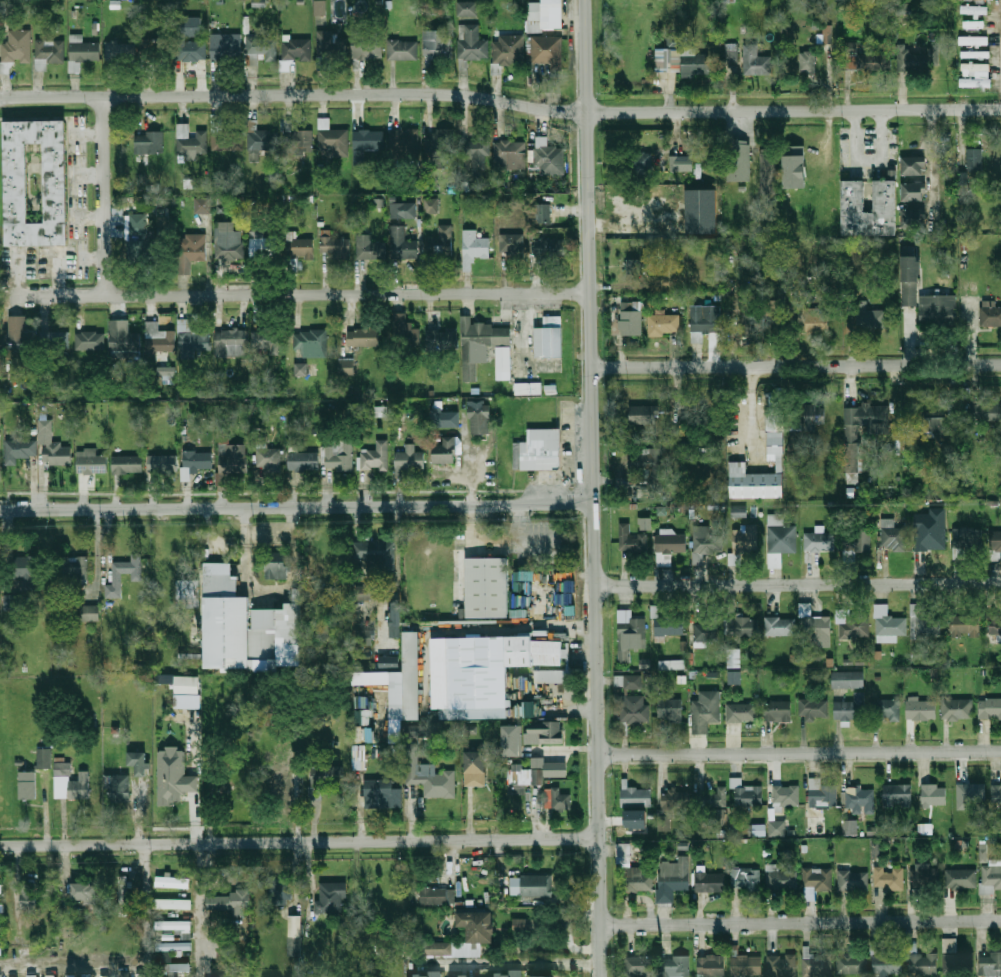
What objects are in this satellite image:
building: (961, 0)
building: (320, 8)
building: (467, 9)
building: (974, 9)
building: (535, 17)
building: (973, 24)
building: (826, 34)
building: (190, 39)
building: (973, 41)
building: (471, 44)
building: (226, 46)
building: (436, 46)
building: (19, 48)
building: (261, 48)
building: (329, 48)
building: (366, 48)
building: (296, 49)
building: (402, 50)
building: (508, 50)
building: (546, 50)
building: (153, 51)
building: (48, 52)
building: (119, 52)
building: (82, 53)
building: (731, 53)
building: (975, 54)
building: (864, 60)
building: (918, 60)
building: (681, 61)
building: (755, 61)
building: (807, 62)
building: (976, 67)
building: (975, 83)
road: (500, 100)
road: (87, 134)
building: (262, 140)
building: (404, 140)
building: (439, 140)
building: (191, 141)
building: (227, 141)
building: (298, 142)
building: (366, 142)
building: (149, 143)
building: (335, 143)
building: (508, 152)
building: (475, 153)
building: (974, 159)
building: (550, 160)
building: (809, 160)
building: (738, 161)
road: (931, 161)
road: (872, 162)
building: (641, 165)
building: (682, 165)
building: (913, 166)
building: (793, 167)
road: (89, 172)
building: (769, 172)
building: (15, 173)
building: (912, 192)
road: (102, 193)
building: (853, 196)
building: (202, 205)
building: (430, 206)
building: (402, 210)
building: (700, 211)
building: (543, 212)
road: (89, 215)
building: (913, 218)
building: (139, 226)
building: (228, 241)
building: (440, 243)
building: (402, 244)
building: (261, 245)
building: (475, 245)
building: (511, 245)
building: (335, 246)
building: (191, 247)
building: (300, 248)
building: (370, 248)
building: (552, 254)
road: (93, 259)
building: (633, 268)
building: (971, 287)
building: (852, 291)
road: (302, 294)
building: (925, 296)
building: (771, 311)
building: (989, 313)
building: (869, 316)
building: (630, 318)
building: (814, 319)
building: (703, 321)
building: (662, 323)
building: (404, 332)
building: (17, 333)
building: (122, 336)
building: (362, 337)
building: (441, 337)
building: (548, 337)
building: (158, 338)
building: (192, 338)
building: (55, 339)
building: (266, 340)
building: (89, 341)
building: (230, 342)
building: (311, 342)
building: (478, 343)
building: (502, 363)
building: (345, 366)
road: (797, 366)
building: (300, 369)
building: (527, 388)
road: (754, 409)
building: (986, 410)
building: (642, 414)
building: (812, 415)
building: (443, 416)
building: (478, 416)
building: (933, 423)
building: (774, 436)
building: (850, 438)
building: (51, 445)
building: (19, 450)
building: (446, 450)
building: (538, 450)
building: (231, 454)
building: (266, 455)
building: (374, 456)
building: (339, 457)
building: (409, 459)
building: (302, 461)
building: (90, 462)
building: (194, 462)
building: (127, 464)
building: (162, 464)
building: (647, 466)
building: (0, 469)
road: (584, 488)
road: (594, 488)
road: (296, 506)
building: (644, 523)
building: (932, 530)
building: (891, 534)
building: (780, 535)
building: (630, 539)
building: (818, 540)
building: (963, 540)
building: (995, 540)
building: (857, 541)
building: (704, 542)
building: (742, 542)
building: (668, 545)
building: (376, 554)
building: (276, 565)
building: (76, 569)
building: (25, 571)
building: (136, 577)
building: (520, 580)
road: (798, 584)
building: (486, 587)
building: (364, 592)
building: (186, 594)
building: (543, 598)
building: (12, 602)
building: (90, 613)
building: (395, 620)
building: (665, 622)
building: (923, 622)
building: (852, 624)
building: (887, 624)
building: (994, 625)
building: (742, 626)
building: (779, 626)
building: (964, 626)
road: (535, 628)
building: (817, 628)
building: (247, 629)
building: (629, 630)
building: (705, 631)
building: (364, 637)
building: (732, 657)
building: (388, 661)
building: (671, 664)
building: (489, 672)
building: (548, 675)
building: (733, 677)
building: (847, 679)
building: (399, 681)
building: (627, 681)
building: (186, 692)
building: (849, 707)
building: (812, 708)
building: (889, 708)
building: (919, 708)
building: (956, 708)
building: (989, 708)
building: (632, 709)
building: (669, 709)
building: (704, 710)
building: (776, 710)
building: (740, 712)
building: (543, 731)
building: (509, 740)
road: (801, 753)
building: (43, 758)
building: (138, 762)
building: (62, 768)
building: (473, 768)
building: (535, 771)
building: (427, 775)
building: (173, 776)
building: (278, 784)
building: (26, 785)
building: (79, 786)
building: (118, 787)
building: (745, 793)
building: (821, 793)
building: (381, 794)
building: (634, 794)
building: (896, 794)
building: (969, 794)
building: (996, 794)
building: (785, 795)
building: (933, 795)
building: (717, 797)
building: (555, 799)
building: (674, 799)
building: (858, 799)
building: (719, 816)
building: (634, 819)
building: (849, 826)
building: (779, 828)
building: (758, 829)
road: (299, 842)
building: (982, 853)
building: (623, 854)
building: (674, 874)
building: (926, 876)
building: (889, 878)
building: (961, 878)
building: (991, 878)
building: (745, 879)
building: (781, 879)
building: (817, 879)
building: (637, 880)
building: (853, 880)
building: (172, 882)
building: (710, 882)
building: (0, 885)
building: (531, 885)
building: (280, 891)
building: (84, 893)
building: (29, 896)
building: (123, 896)
building: (437, 896)
building: (332, 898)
road: (199, 899)
building: (229, 902)
building: (172, 904)
building: (1, 908)
road: (144, 909)
road: (801, 922)
building: (173, 925)
building: (520, 926)
building: (295, 927)
building: (1, 928)
building: (241, 930)
building: (481, 934)
building: (174, 947)
building: (884, 961)
building: (958, 961)
road: (516, 963)
building: (852, 963)
building: (922, 964)
building: (746, 965)
building: (817, 965)
building: (990, 965)
building: (711, 966)
building: (781, 966)
road: (65, 967)
building: (638, 967)
building: (675, 967)
building: (173, 968)
building: (425, 973)
building: (505, 974)
building: (0, 975)
building: (51, 975)
building: (124, 975)
building: (142, 975)
building: (12, 976)
building: (32, 976)
building: (70, 976)
building: (87, 976)
building: (105, 976)
building: (215, 976)
building: (466, 976)
building: (543, 976)

